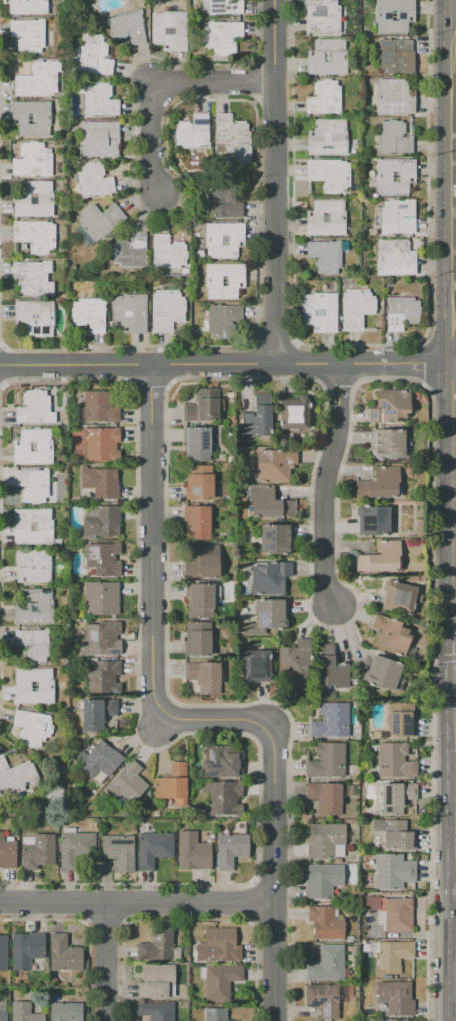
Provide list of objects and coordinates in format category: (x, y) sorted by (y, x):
building: (27, 7)
building: (221, 8)
road: (452, 8)
building: (392, 15)
road: (454, 15)
building: (322, 16)
building: (126, 26)
building: (169, 30)
building: (28, 35)
building: (221, 37)
building: (392, 54)
building: (93, 55)
building: (326, 56)
building: (36, 79)
road: (165, 88)
building: (393, 97)
building: (324, 98)
building: (97, 99)
building: (32, 117)
building: (192, 134)
building: (327, 137)
building: (393, 137)
building: (98, 138)
building: (232, 138)
building: (32, 160)
building: (329, 174)
building: (394, 176)
building: (93, 181)
road: (280, 182)
road: (452, 190)
building: (32, 198)
building: (224, 201)
building: (325, 217)
building: (395, 217)
building: (98, 222)
building: (35, 235)
building: (223, 239)
building: (130, 251)
building: (168, 252)
building: (327, 255)
building: (394, 258)
building: (33, 278)
building: (224, 280)
building: (356, 308)
building: (166, 309)
building: (129, 312)
building: (319, 312)
building: (401, 312)
building: (89, 313)
building: (33, 318)
building: (223, 320)
road: (226, 365)
road: (453, 387)
building: (202, 406)
building: (389, 406)
building: (99, 407)
building: (34, 408)
building: (293, 413)
building: (257, 417)
building: (388, 442)
building: (94, 443)
building: (198, 443)
building: (21, 446)
building: (275, 465)
road: (455, 479)
building: (199, 482)
building: (100, 483)
building: (378, 484)
building: (32, 485)
road: (328, 487)
building: (268, 503)
building: (372, 520)
building: (102, 522)
building: (197, 522)
building: (33, 526)
building: (275, 539)
building: (380, 557)
building: (103, 559)
building: (203, 562)
building: (33, 566)
building: (270, 578)
building: (400, 596)
building: (101, 598)
building: (201, 599)
building: (22, 606)
building: (270, 614)
building: (391, 635)
building: (197, 638)
building: (99, 641)
building: (32, 644)
building: (294, 661)
building: (255, 666)
building: (332, 669)
building: (382, 672)
building: (204, 676)
building: (103, 678)
building: (34, 685)
building: (96, 713)
road: (187, 719)
building: (331, 720)
building: (400, 720)
building: (32, 728)
building: (220, 760)
building: (98, 761)
building: (326, 761)
building: (395, 762)
building: (15, 776)
building: (129, 781)
building: (172, 784)
building: (325, 796)
building: (224, 798)
building: (396, 798)
building: (398, 836)
building: (324, 840)
building: (154, 848)
building: (230, 849)
building: (77, 851)
building: (118, 851)
building: (193, 851)
building: (37, 852)
building: (7, 853)
building: (392, 871)
building: (322, 880)
road: (137, 906)
building: (398, 915)
building: (325, 923)
building: (156, 945)
building: (218, 946)
building: (26, 949)
building: (3, 953)
building: (64, 954)
building: (392, 956)
road: (111, 963)
building: (327, 964)
building: (156, 981)
building: (220, 981)
building: (396, 998)
building: (323, 1000)
building: (65, 1008)
building: (2, 1011)
building: (155, 1011)
building: (24, 1012)
building: (216, 1014)

